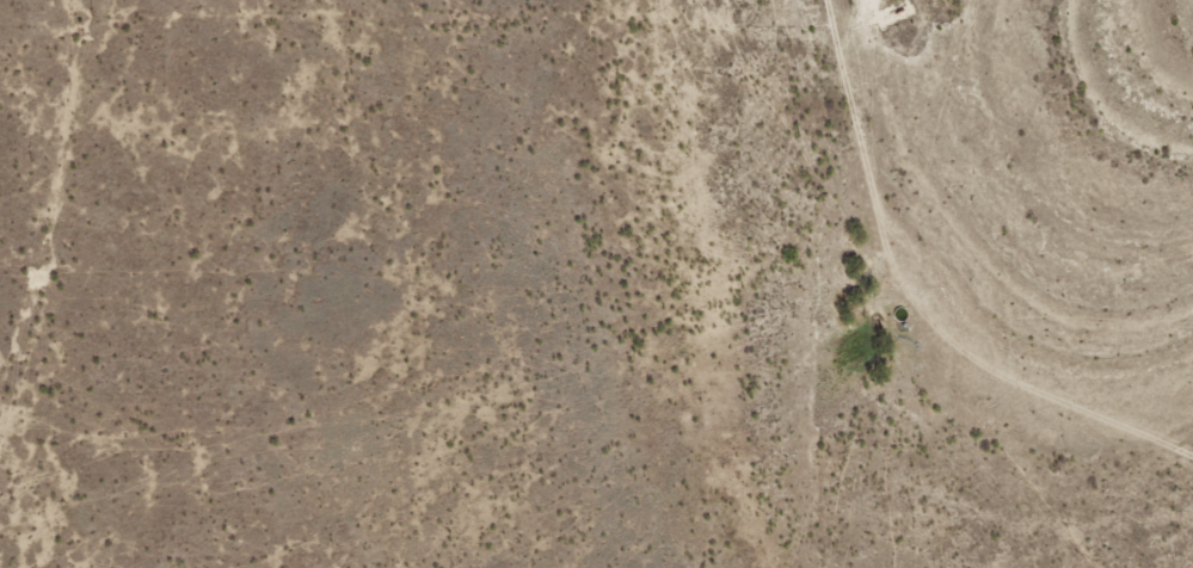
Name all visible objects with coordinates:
road: (1096, 424)

